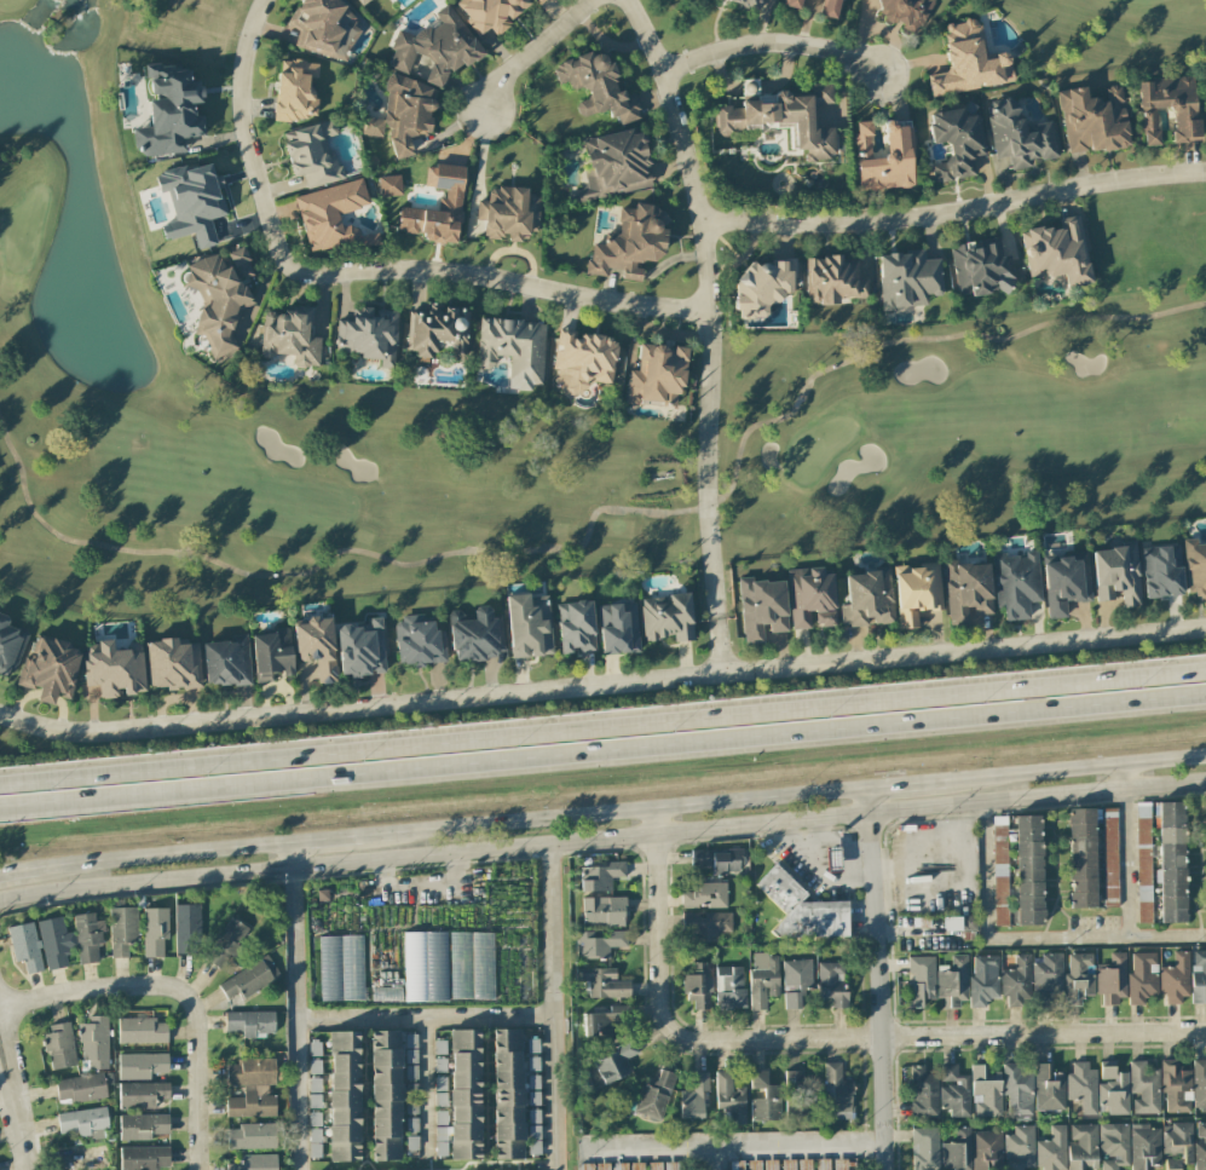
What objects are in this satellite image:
building: (363, 1)
building: (539, 1)
building: (745, 2)
building: (792, 4)
building: (831, 8)
building: (490, 12)
building: (905, 12)
building: (322, 28)
park: (1107, 31)
road: (771, 44)
building: (435, 47)
road: (530, 51)
building: (968, 62)
building: (596, 86)
building: (295, 90)
building: (169, 113)
building: (1182, 114)
building: (402, 115)
building: (783, 116)
building: (1092, 120)
building: (1019, 136)
building: (954, 144)
building: (312, 154)
building: (883, 156)
building: (613, 165)
building: (390, 185)
building: (450, 197)
building: (191, 202)
road: (956, 209)
building: (508, 213)
building: (331, 215)
building: (630, 242)
building: (1057, 252)
building: (979, 270)
road: (356, 272)
building: (832, 279)
building: (907, 279)
building: (761, 286)
building: (219, 298)
road: (705, 301)
building: (438, 330)
building: (369, 335)
building: (289, 336)
building: (513, 350)
building: (583, 362)
building: (656, 375)
park: (510, 419)
building: (1195, 569)
building: (1161, 571)
building: (1115, 575)
building: (1016, 584)
building: (1063, 584)
building: (966, 590)
building: (914, 592)
building: (810, 598)
building: (866, 598)
building: (761, 609)
building: (667, 617)
building: (529, 626)
building: (575, 627)
building: (617, 628)
building: (473, 635)
building: (416, 641)
road: (721, 645)
building: (7, 646)
building: (316, 646)
building: (360, 649)
building: (270, 655)
building: (225, 662)
building: (172, 664)
building: (48, 669)
building: (112, 670)
road: (601, 682)
road: (602, 724)
road: (602, 753)
road: (1075, 766)
road: (1127, 777)
road: (905, 783)
railway: (602, 785)
road: (613, 812)
road: (749, 826)
road: (818, 830)
road: (327, 838)
road: (832, 841)
road: (860, 848)
road: (163, 854)
gas station: (832, 858)
building: (1081, 858)
building: (1109, 858)
building: (720, 859)
building: (832, 859)
building: (1143, 861)
road: (1129, 863)
building: (1171, 863)
building: (1027, 869)
building: (999, 871)
road: (18, 872)
building: (599, 876)
road: (145, 882)
road: (422, 883)
gas station: (779, 888)
building: (704, 895)
building: (602, 911)
building: (814, 921)
building: (969, 923)
building: (705, 924)
building: (187, 928)
building: (122, 929)
building: (154, 932)
road: (1037, 934)
building: (87, 938)
building: (53, 943)
building: (598, 943)
building: (225, 944)
building: (24, 946)
building: (423, 966)
building: (469, 966)
building: (340, 969)
building: (1142, 975)
building: (1198, 975)
building: (1046, 976)
building: (252, 978)
road: (881, 978)
building: (1079, 978)
building: (1112, 978)
building: (1175, 978)
building: (762, 979)
building: (921, 979)
building: (982, 979)
building: (1016, 980)
building: (601, 982)
building: (795, 982)
building: (831, 982)
building: (952, 982)
building: (699, 985)
building: (731, 989)
road: (181, 991)
building: (386, 995)
road: (296, 1005)
road: (553, 1008)
road: (426, 1015)
building: (605, 1020)
building: (250, 1022)
building: (143, 1031)
road: (826, 1038)
building: (94, 1041)
building: (410, 1041)
building: (531, 1045)
building: (59, 1047)
building: (439, 1047)
building: (315, 1048)
building: (411, 1055)
building: (614, 1061)
building: (533, 1064)
building: (140, 1065)
building: (440, 1065)
building: (315, 1066)
building: (252, 1072)
building: (410, 1072)
building: (532, 1082)
building: (439, 1083)
road: (423, 1084)
building: (1200, 1084)
building: (315, 1085)
building: (80, 1087)
building: (1083, 1087)
building: (1049, 1088)
building: (1176, 1088)
building: (837, 1089)
building: (1017, 1089)
building: (1113, 1089)
building: (1143, 1089)
building: (411, 1090)
building: (922, 1091)
building: (463, 1093)
building: (795, 1093)
building: (953, 1093)
building: (140, 1094)
building: (508, 1094)
building: (385, 1095)
building: (986, 1095)
building: (691, 1096)
road: (16, 1097)
building: (533, 1097)
building: (654, 1097)
building: (313, 1100)
building: (345, 1100)
building: (439, 1100)
building: (729, 1100)
building: (764, 1100)
building: (252, 1102)
building: (410, 1107)
building: (440, 1117)
building: (532, 1117)
building: (315, 1118)
building: (83, 1120)
building: (411, 1125)
building: (142, 1126)
building: (533, 1131)
building: (440, 1134)
road: (11, 1135)
building: (315, 1135)
building: (253, 1136)
building: (411, 1143)
road: (733, 1145)
building: (1178, 1145)
building: (1114, 1146)
building: (533, 1147)
building: (1083, 1147)
building: (1144, 1147)
building: (1200, 1147)
building: (924, 1148)
building: (987, 1148)
building: (1019, 1148)
building: (315, 1149)
building: (440, 1149)
building: (1051, 1149)
building: (957, 1151)
building: (144, 1157)
building: (255, 1162)
building: (789, 1164)
building: (803, 1164)
building: (823, 1164)
building: (839, 1164)
building: (654, 1165)
building: (670, 1165)
building: (771, 1165)
building: (585, 1166)
building: (601, 1166)
building: (619, 1166)
building: (636, 1166)
building: (735, 1166)
building: (754, 1166)

